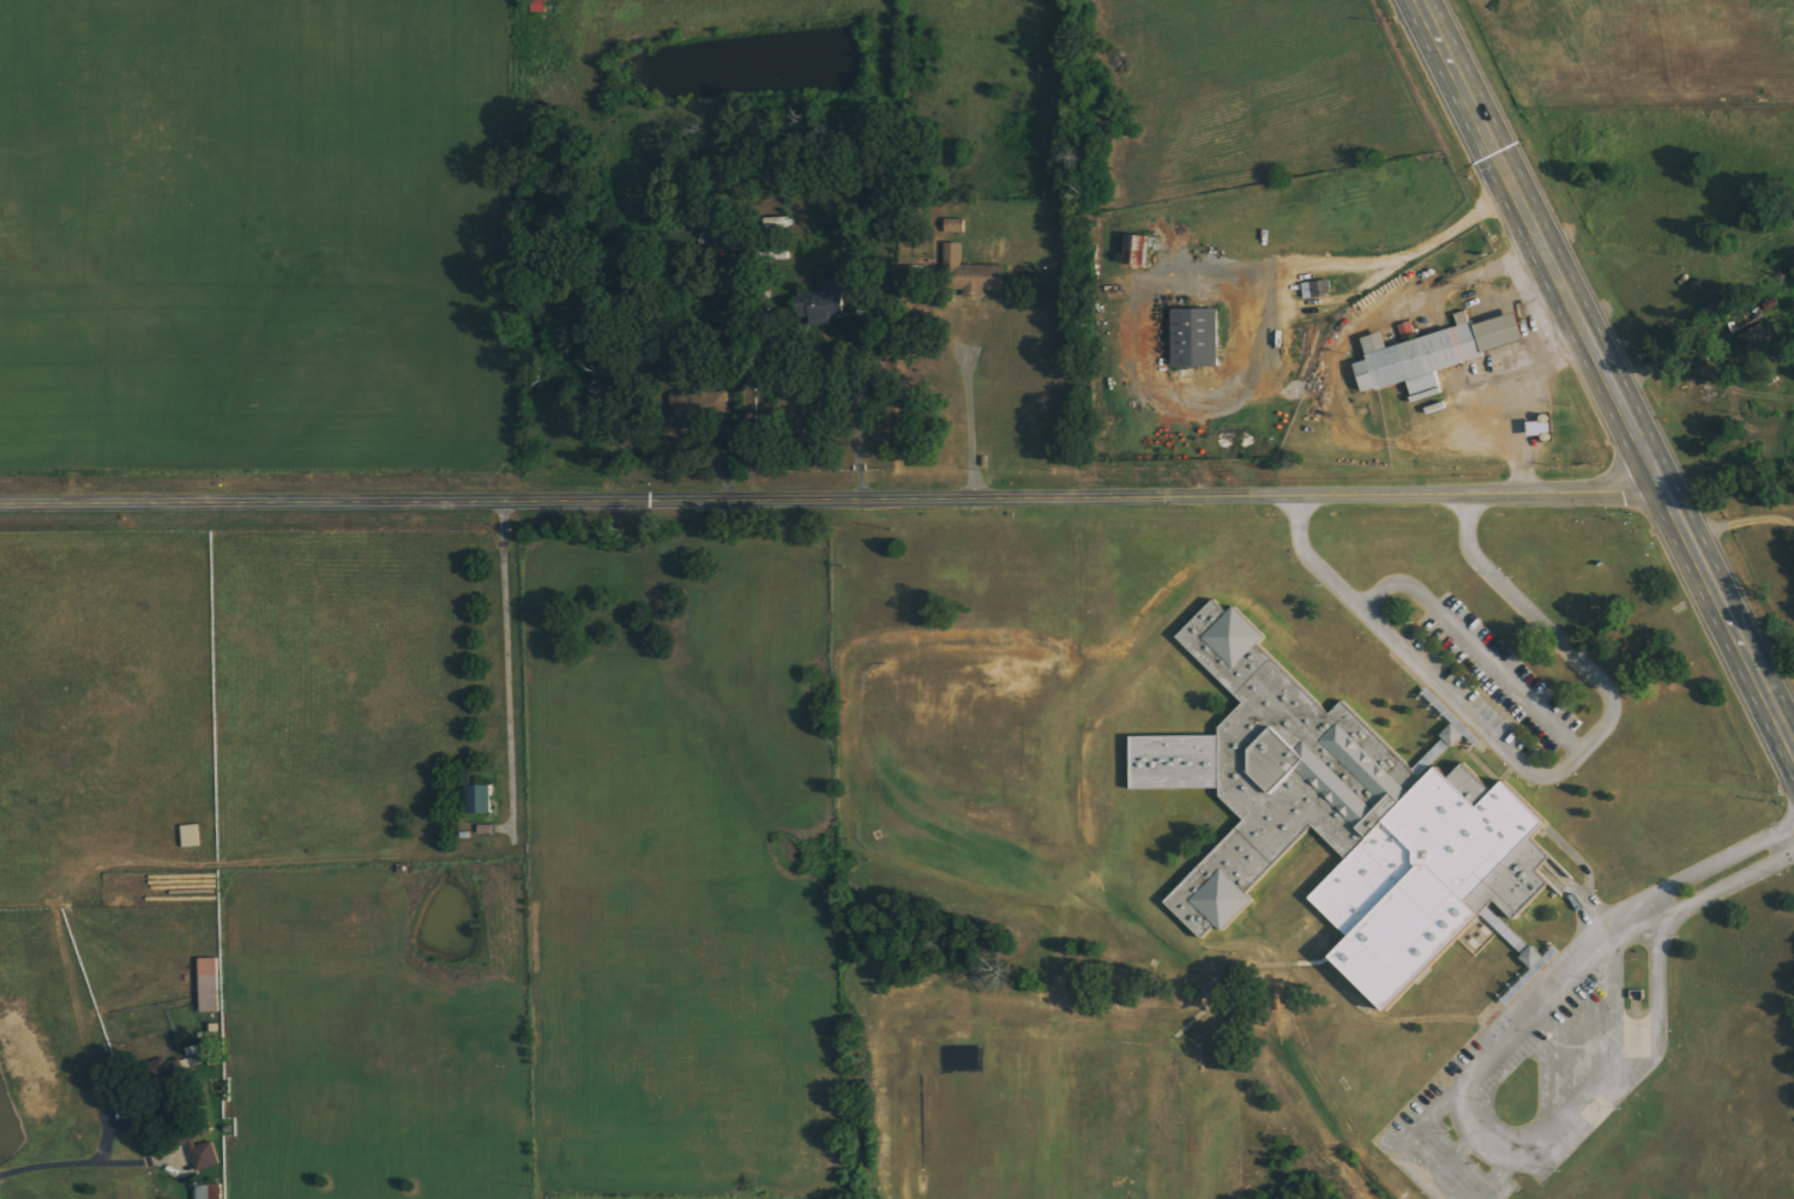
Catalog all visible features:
building: (1218, 104)
building: (956, 225)
building: (1138, 249)
building: (976, 287)
building: (1317, 289)
building: (825, 301)
building: (1759, 337)
building: (1197, 338)
building: (1435, 353)
road: (1601, 379)
building: (681, 406)
road: (826, 495)
road: (1475, 649)
road: (1536, 777)
building: (478, 800)
building: (1350, 823)
building: (191, 836)
road: (1606, 929)
building: (1535, 958)
building: (209, 984)
road: (1658, 989)
road: (1591, 1031)
road: (1493, 1121)
road: (1404, 1145)
road: (1459, 1153)
building: (206, 1157)
road: (73, 1168)
road: (1506, 1173)
building: (209, 1192)

